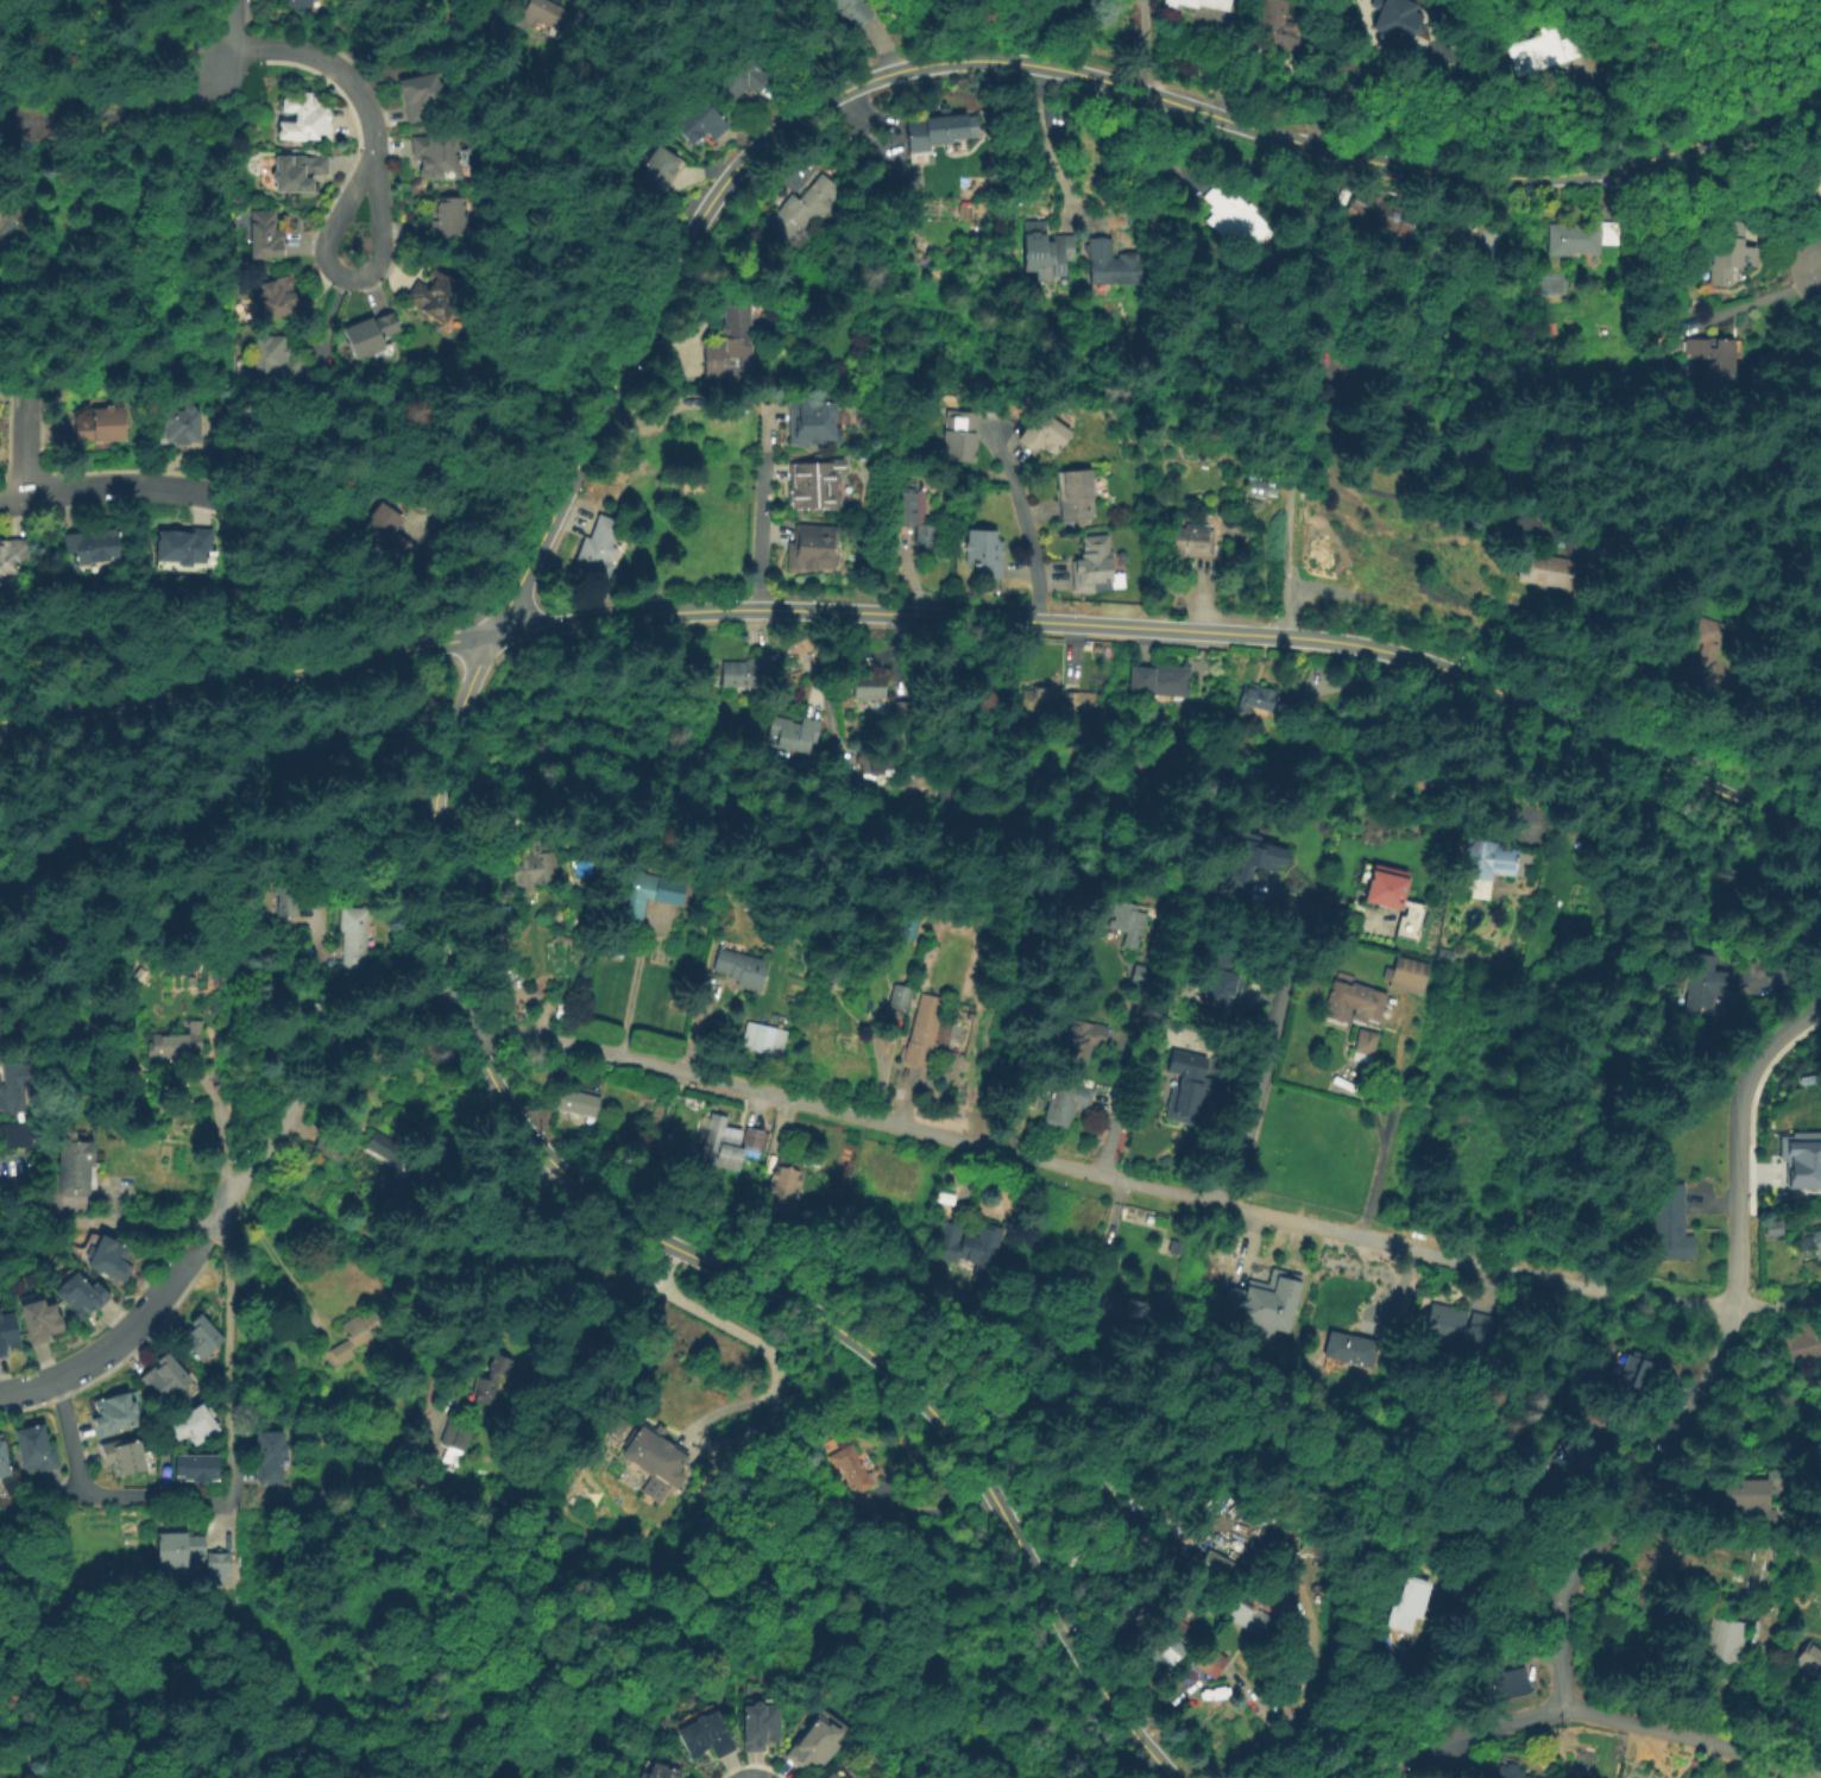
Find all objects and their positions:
building: (303, 2)
building: (1212, 4)
building: (1172, 6)
road: (113, 8)
building: (535, 11)
building: (857, 11)
building: (1394, 18)
building: (1279, 26)
building: (1401, 39)
road: (227, 40)
road: (418, 46)
building: (1546, 50)
road: (172, 51)
road: (328, 62)
road: (1016, 62)
building: (417, 88)
building: (745, 89)
building: (302, 112)
road: (122, 115)
building: (701, 128)
building: (937, 128)
road: (1045, 144)
building: (433, 151)
building: (298, 169)
building: (1813, 176)
building: (659, 177)
road: (347, 191)
building: (804, 204)
building: (1234, 214)
building: (443, 216)
building: (1380, 216)
building: (7, 232)
building: (265, 233)
building: (1582, 238)
building: (1477, 240)
building: (1044, 252)
building: (1731, 253)
road: (374, 254)
building: (1115, 263)
building: (277, 296)
building: (440, 297)
road: (1750, 300)
building: (367, 329)
building: (1328, 336)
building: (733, 343)
building: (273, 357)
building: (1354, 368)
building: (1714, 368)
building: (811, 418)
building: (176, 421)
building: (102, 424)
building: (1044, 427)
building: (962, 431)
road: (25, 442)
building: (813, 481)
road: (114, 486)
building: (1256, 487)
building: (1077, 490)
road: (1290, 506)
building: (916, 512)
road: (762, 530)
building: (386, 534)
building: (1193, 540)
building: (94, 544)
road: (1026, 544)
building: (184, 546)
building: (983, 546)
building: (811, 547)
building: (597, 548)
building: (14, 556)
building: (1095, 562)
building: (1551, 567)
road: (1172, 628)
building: (1701, 662)
building: (741, 672)
road: (242, 677)
building: (1164, 680)
building: (868, 682)
building: (1815, 693)
building: (1050, 696)
building: (1258, 701)
building: (792, 733)
building: (877, 764)
road: (353, 851)
building: (1249, 855)
building: (1495, 859)
building: (531, 863)
building: (631, 894)
building: (1394, 894)
building: (278, 895)
building: (1127, 915)
building: (902, 920)
building: (353, 938)
building: (741, 966)
building: (1406, 970)
building: (1220, 972)
building: (832, 975)
building: (1146, 975)
building: (1702, 977)
road: (628, 992)
building: (901, 994)
building: (1354, 997)
road: (418, 1008)
building: (922, 1029)
building: (763, 1036)
building: (172, 1038)
building: (1079, 1038)
building: (1365, 1044)
road: (1267, 1054)
building: (1186, 1084)
building: (13, 1092)
building: (1066, 1099)
building: (575, 1101)
road: (1122, 1106)
road: (292, 1114)
road: (1384, 1115)
road: (218, 1129)
building: (24, 1133)
building: (751, 1137)
building: (722, 1139)
building: (379, 1142)
building: (328, 1147)
building: (398, 1161)
building: (1801, 1168)
building: (77, 1173)
building: (776, 1181)
road: (1138, 1185)
building: (947, 1197)
building: (1820, 1212)
building: (1670, 1219)
road: (101, 1224)
building: (1817, 1241)
road: (208, 1244)
building: (973, 1246)
road: (1095, 1247)
road: (689, 1251)
building: (115, 1255)
building: (927, 1261)
road: (275, 1266)
building: (89, 1293)
building: (1279, 1297)
building: (1235, 1299)
building: (48, 1316)
building: (1110, 1318)
building: (1455, 1325)
building: (12, 1330)
building: (190, 1333)
building: (352, 1333)
building: (1802, 1344)
road: (112, 1347)
building: (1348, 1350)
road: (227, 1361)
road: (1715, 1362)
building: (1634, 1369)
building: (162, 1370)
building: (485, 1379)
road: (770, 1388)
building: (119, 1411)
building: (191, 1418)
building: (453, 1438)
building: (40, 1446)
building: (1576, 1450)
building: (265, 1452)
building: (128, 1454)
building: (653, 1455)
building: (6, 1457)
building: (193, 1463)
building: (851, 1467)
building: (651, 1488)
building: (1748, 1496)
road: (96, 1498)
building: (868, 1508)
building: (1261, 1546)
building: (175, 1547)
building: (215, 1566)
building: (1757, 1566)
building: (1217, 1568)
building: (1407, 1606)
building: (1258, 1609)
building: (1173, 1627)
building: (1722, 1639)
building: (1808, 1659)
building: (1210, 1660)
building: (1511, 1683)
building: (1279, 1706)
road: (1601, 1719)
building: (752, 1722)
building: (699, 1730)
building: (807, 1741)
building: (651, 1768)
building: (1511, 1771)
building: (830, 1776)
building: (838, 1777)

